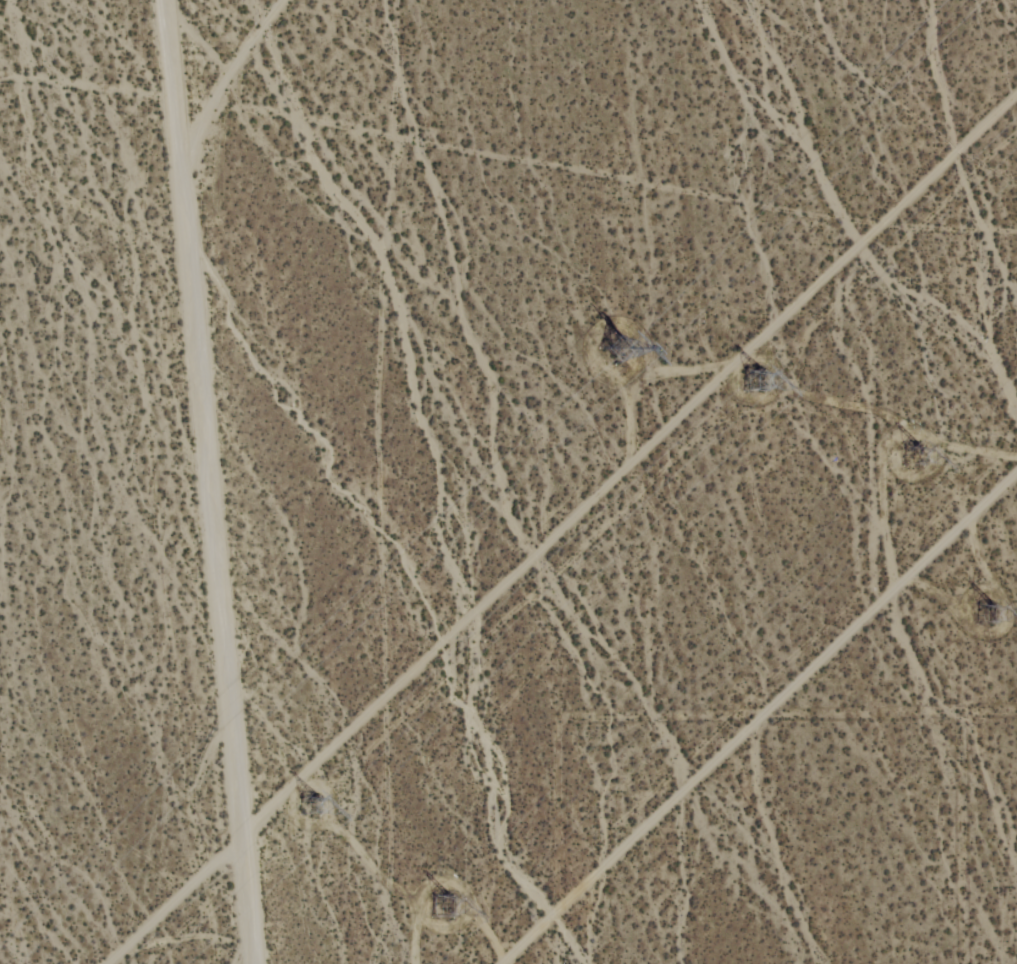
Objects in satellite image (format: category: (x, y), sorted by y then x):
road: (228, 78)
power tower: (600, 346)
power tower: (755, 378)
power tower: (924, 449)
road: (208, 482)
road: (564, 530)
power tower: (987, 618)
road: (760, 719)
power tower: (315, 803)
power tower: (444, 907)

